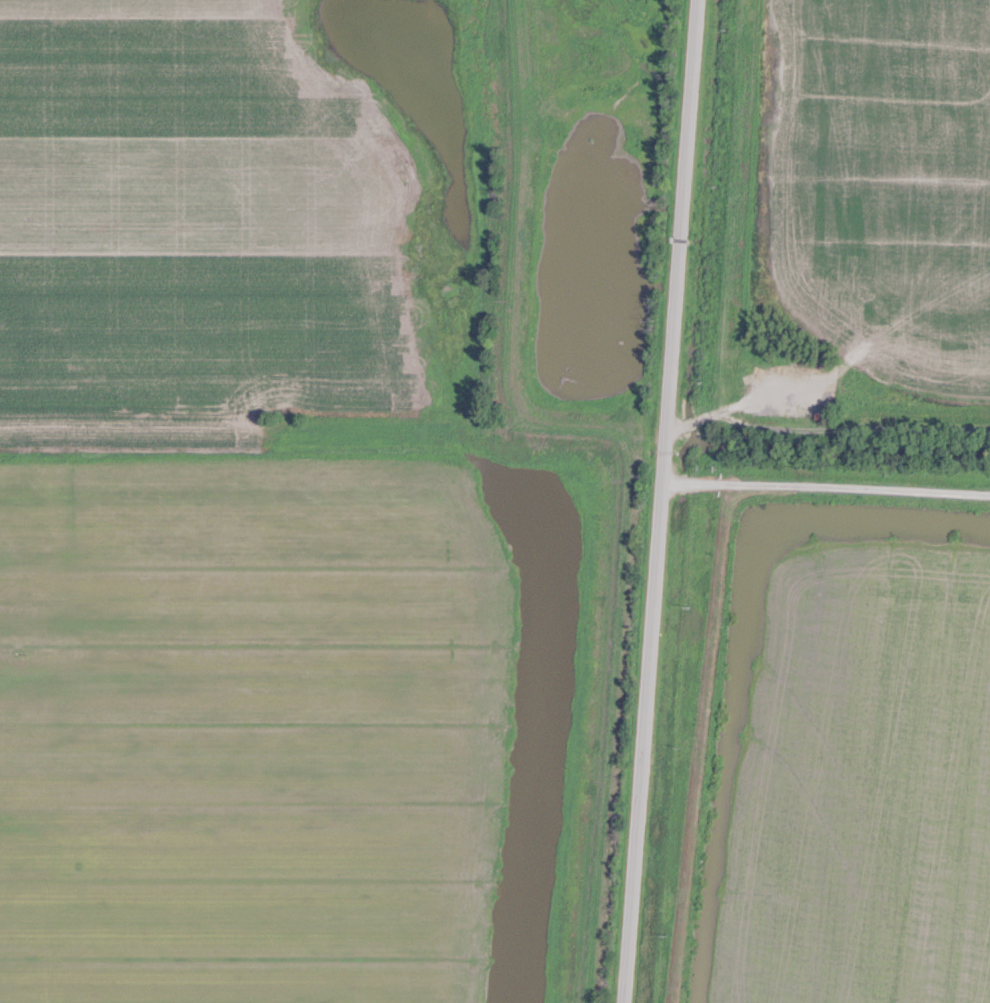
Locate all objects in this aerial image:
road: (655, 501)

